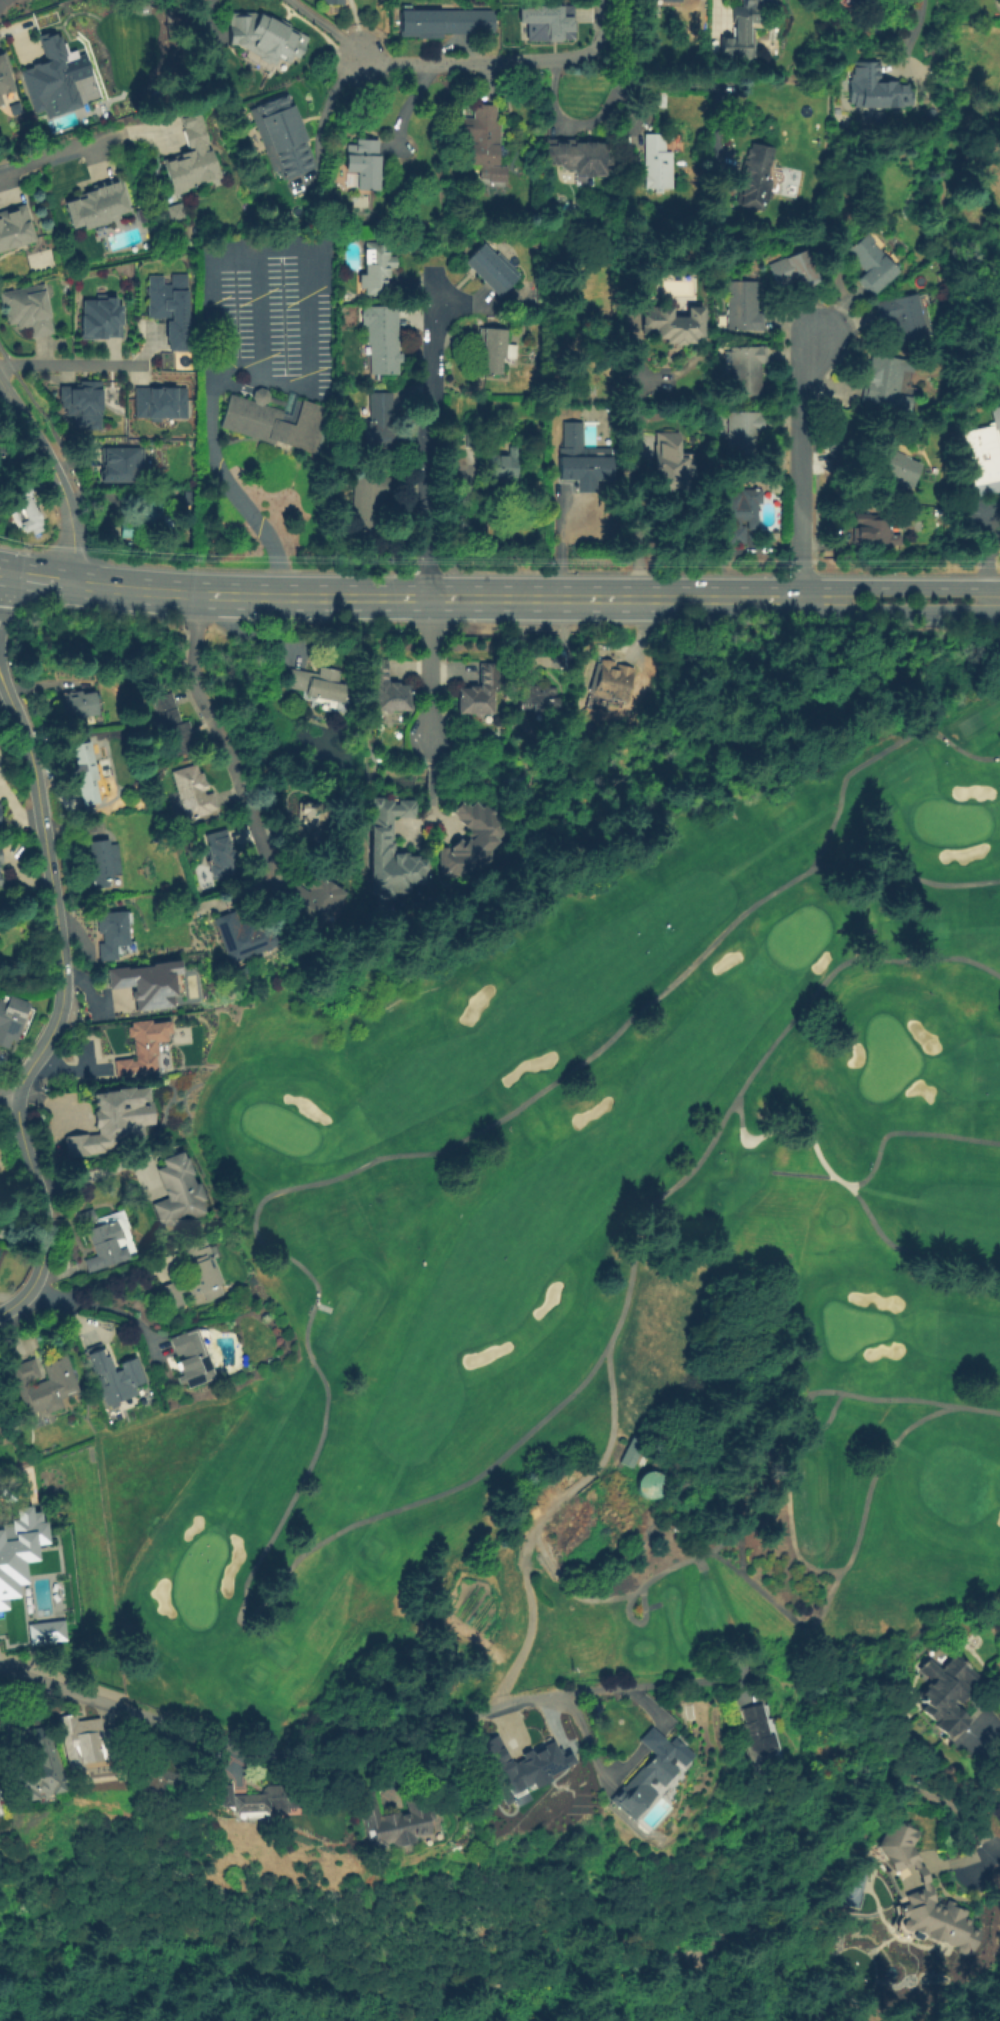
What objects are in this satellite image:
building: (882, 0)
building: (664, 1)
building: (333, 2)
building: (861, 2)
building: (802, 14)
road: (206, 17)
building: (445, 22)
building: (546, 22)
road: (323, 26)
road: (370, 31)
building: (741, 31)
road: (909, 31)
building: (262, 37)
road: (498, 59)
building: (256, 60)
building: (4, 78)
building: (52, 81)
building: (875, 90)
road: (689, 92)
road: (590, 117)
building: (482, 135)
building: (282, 138)
road: (68, 150)
building: (194, 157)
building: (581, 157)
building: (364, 163)
building: (657, 163)
building: (753, 178)
building: (99, 203)
building: (172, 210)
building: (317, 220)
building: (16, 227)
road: (215, 261)
building: (869, 263)
building: (377, 268)
building: (491, 269)
building: (794, 270)
building: (743, 307)
building: (173, 308)
building: (29, 311)
road: (259, 314)
building: (901, 317)
building: (104, 321)
building: (672, 321)
building: (383, 339)
building: (491, 349)
road: (71, 363)
building: (745, 369)
building: (884, 379)
building: (80, 396)
building: (158, 401)
road: (802, 403)
building: (275, 419)
building: (379, 422)
road: (426, 436)
building: (744, 438)
building: (473, 439)
building: (843, 456)
building: (984, 457)
building: (3, 461)
building: (585, 461)
building: (119, 463)
building: (503, 466)
building: (671, 466)
building: (898, 470)
road: (55, 476)
road: (629, 480)
building: (188, 498)
building: (368, 503)
building: (28, 506)
building: (153, 511)
building: (741, 513)
building: (130, 529)
building: (874, 530)
road: (801, 537)
building: (130, 547)
road: (987, 550)
road: (12, 573)
road: (46, 579)
road: (3, 584)
road: (913, 586)
road: (454, 597)
road: (993, 599)
road: (913, 611)
road: (426, 669)
road: (192, 673)
road: (1, 679)
building: (612, 681)
road: (1, 684)
building: (319, 684)
building: (391, 689)
building: (482, 691)
building: (508, 694)
building: (536, 697)
building: (78, 705)
building: (173, 727)
building: (91, 772)
building: (194, 792)
road: (249, 807)
building: (0, 817)
road: (831, 821)
building: (309, 822)
building: (475, 840)
building: (396, 852)
building: (220, 854)
building: (1, 856)
building: (105, 864)
building: (1, 880)
building: (313, 901)
building: (113, 934)
building: (244, 936)
building: (240, 969)
building: (146, 983)
road: (56, 1010)
building: (12, 1019)
road: (777, 1035)
building: (144, 1046)
road: (9, 1096)
building: (109, 1120)
road: (907, 1132)
road: (99, 1172)
building: (178, 1192)
road: (648, 1203)
building: (85, 1217)
building: (105, 1246)
road: (907, 1249)
building: (193, 1277)
park: (601, 1277)
road: (97, 1304)
road: (309, 1315)
building: (191, 1359)
building: (114, 1376)
building: (44, 1383)
road: (779, 1399)
road: (610, 1408)
road: (978, 1409)
road: (811, 1430)
building: (630, 1453)
road: (876, 1470)
building: (646, 1486)
road: (789, 1528)
building: (18, 1547)
road: (637, 1588)
road: (782, 1612)
building: (42, 1631)
road: (640, 1688)
building: (947, 1696)
building: (687, 1712)
road: (989, 1729)
building: (86, 1739)
building: (759, 1739)
road: (267, 1757)
building: (31, 1766)
road: (621, 1766)
building: (154, 1769)
building: (525, 1772)
building: (647, 1777)
building: (249, 1798)
road: (843, 1810)
building: (575, 1813)
building: (394, 1821)
building: (858, 1887)
building: (927, 1895)
park: (773, 1925)
road: (355, 1997)

